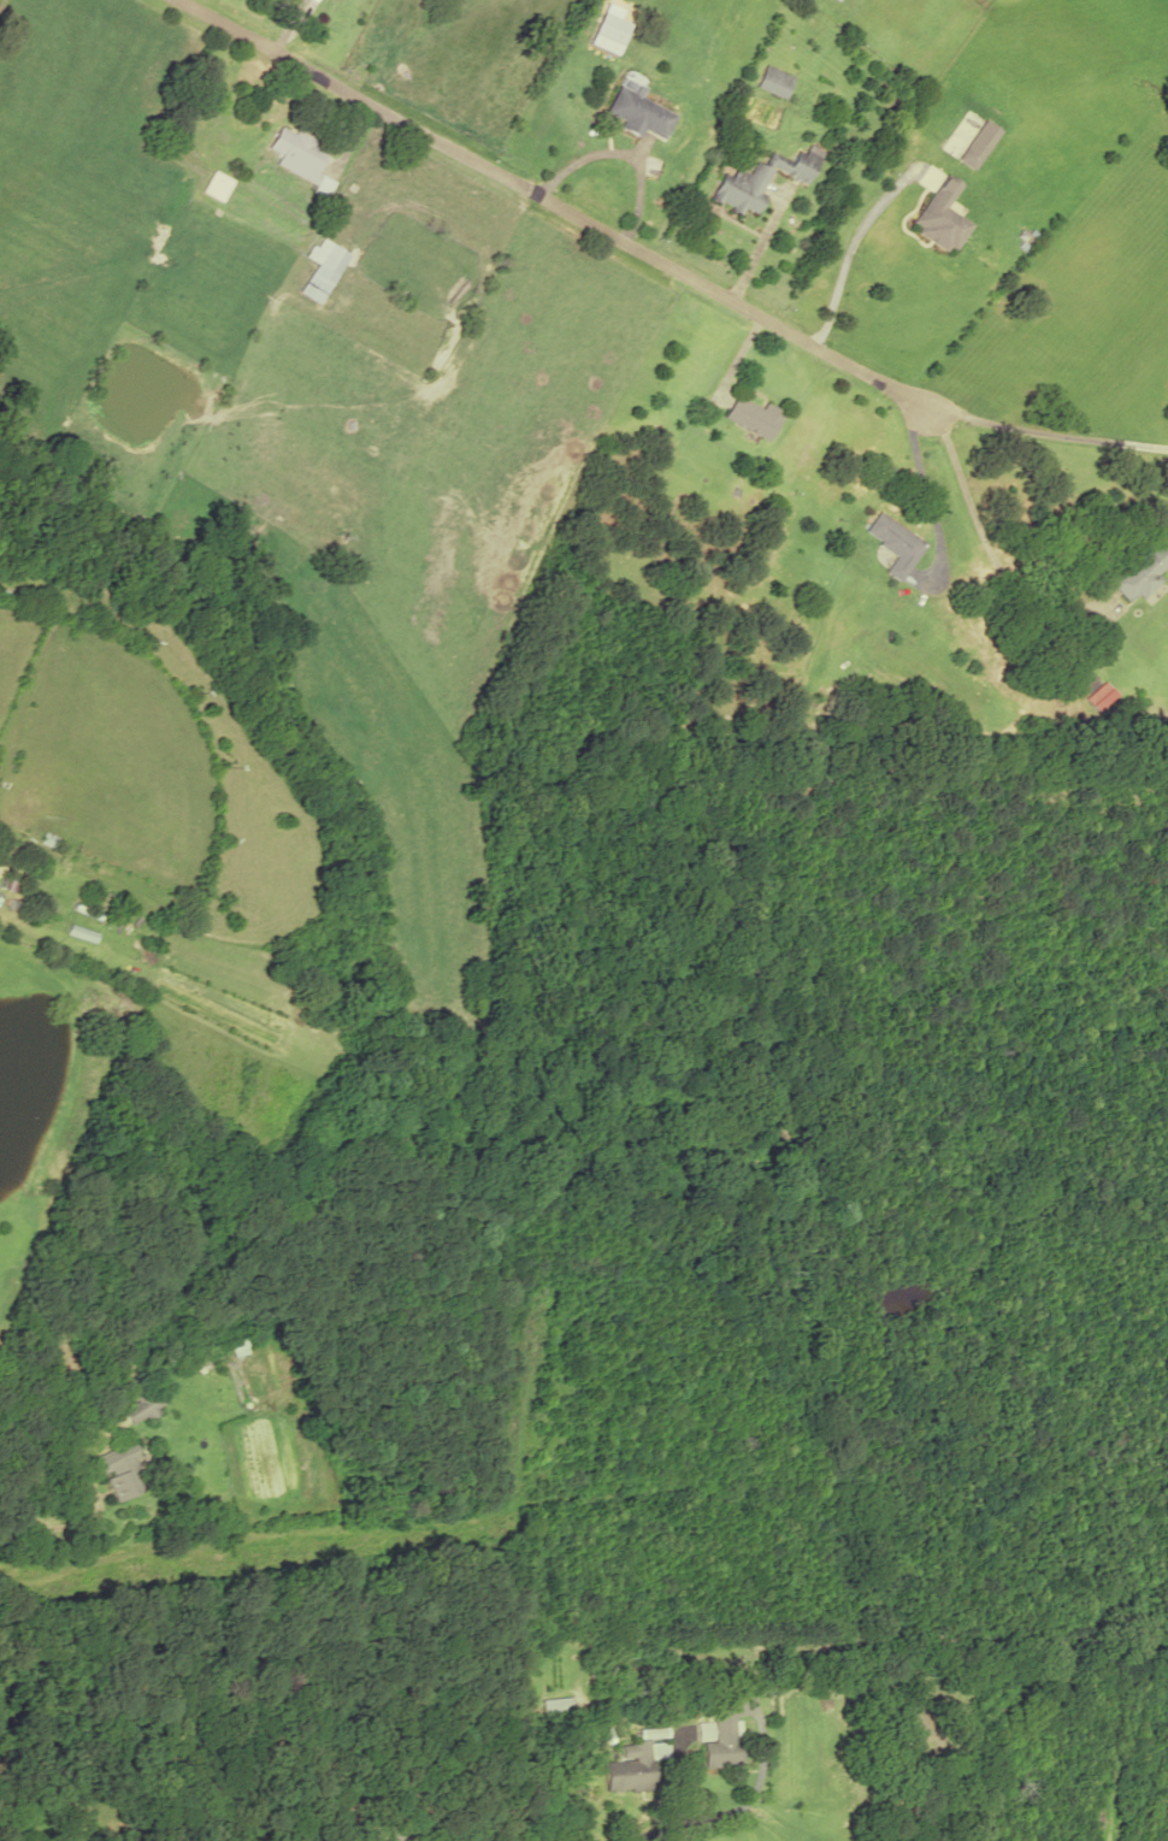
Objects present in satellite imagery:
building: (834, 0)
building: (606, 39)
building: (772, 81)
building: (637, 113)
building: (968, 155)
building: (299, 158)
building: (794, 164)
building: (216, 184)
building: (743, 188)
road: (548, 203)
building: (939, 217)
building: (320, 269)
building: (755, 415)
building: (895, 542)
building: (1142, 570)
building: (859, 695)
building: (141, 1405)
building: (122, 1470)
building: (724, 1707)
building: (719, 1742)
building: (632, 1766)
building: (105, 1777)
road: (678, 1827)

